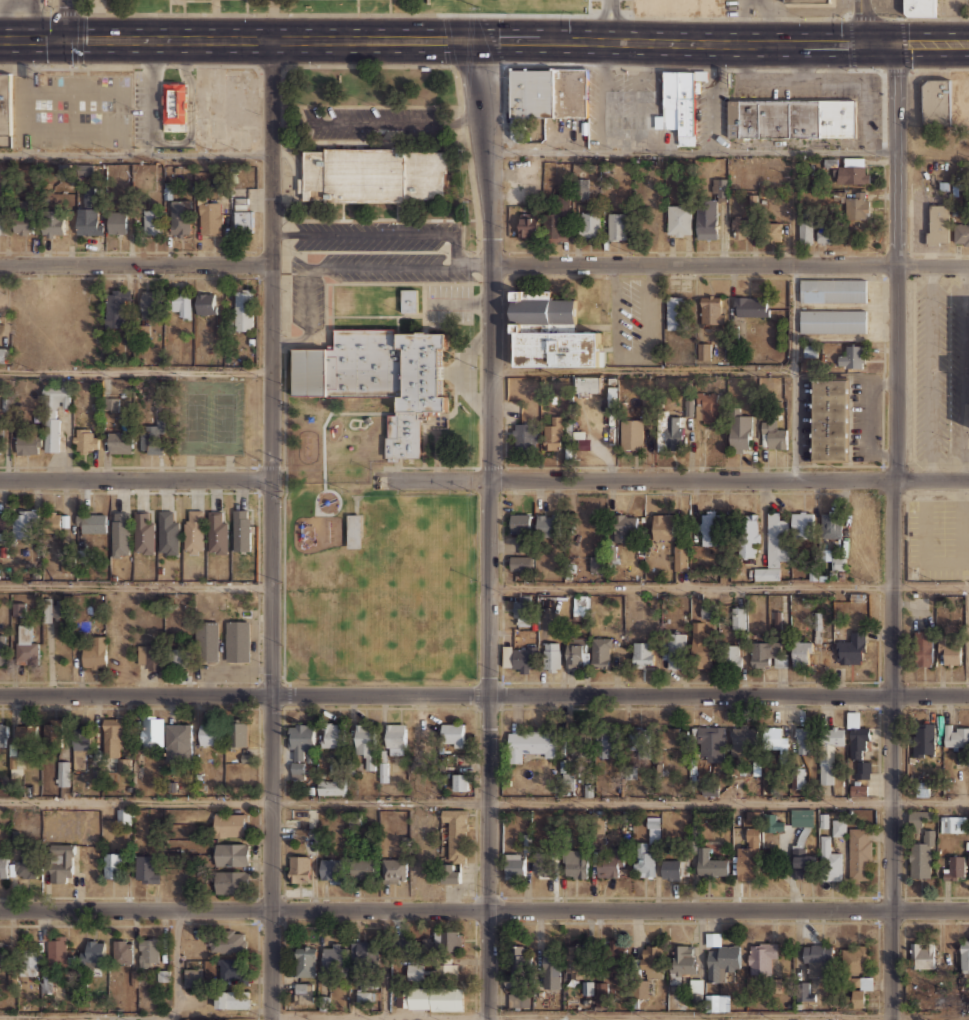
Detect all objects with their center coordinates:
building: (807, 1)
building: (919, 8)
road: (65, 20)
road: (610, 20)
road: (862, 22)
road: (484, 40)
building: (560, 91)
building: (577, 92)
building: (682, 102)
building: (936, 102)
building: (529, 103)
building: (5, 104)
building: (174, 107)
parking lot: (83, 111)
building: (733, 118)
building: (747, 118)
building: (762, 118)
building: (772, 118)
building: (783, 118)
building: (797, 118)
building: (812, 118)
building: (843, 118)
building: (824, 119)
building: (633, 121)
parking lot: (370, 123)
road: (379, 124)
road: (136, 152)
road: (693, 152)
building: (64, 170)
building: (851, 170)
building: (372, 174)
road: (294, 186)
building: (582, 188)
building: (719, 189)
building: (89, 193)
building: (857, 204)
building: (242, 215)
building: (209, 216)
building: (181, 217)
building: (558, 219)
building: (706, 219)
building: (152, 220)
building: (678, 220)
building: (88, 221)
building: (117, 221)
building: (2, 223)
building: (589, 223)
building: (22, 224)
building: (53, 224)
building: (528, 225)
building: (617, 225)
building: (938, 225)
building: (742, 229)
building: (772, 231)
building: (805, 231)
building: (961, 233)
road: (379, 234)
building: (826, 235)
parking lot: (369, 244)
road: (136, 263)
road: (731, 264)
road: (403, 266)
road: (283, 284)
building: (832, 290)
building: (408, 299)
building: (150, 302)
building: (179, 302)
building: (205, 303)
building: (117, 306)
building: (751, 306)
building: (243, 309)
building: (712, 309)
building: (675, 312)
road: (307, 317)
building: (832, 321)
building: (549, 332)
road: (283, 342)
building: (703, 350)
building: (3, 354)
building: (852, 357)
road: (136, 369)
road: (642, 370)
road: (792, 371)
building: (379, 377)
building: (587, 384)
building: (110, 403)
building: (709, 406)
building: (688, 407)
building: (53, 413)
building: (829, 420)
building: (670, 431)
building: (740, 432)
building: (554, 433)
building: (631, 433)
building: (525, 435)
building: (772, 435)
building: (151, 438)
building: (0, 439)
building: (85, 439)
building: (120, 441)
building: (27, 444)
building: (584, 445)
road: (675, 479)
road: (135, 480)
road: (129, 492)
road: (283, 519)
building: (56, 521)
building: (93, 521)
building: (520, 521)
building: (803, 522)
building: (4, 523)
building: (25, 523)
building: (546, 524)
building: (831, 524)
building: (662, 525)
building: (625, 527)
building: (710, 527)
building: (241, 529)
road: (271, 529)
building: (354, 529)
road: (488, 529)
building: (143, 531)
building: (193, 531)
road: (893, 531)
building: (217, 532)
building: (120, 533)
building: (167, 533)
building: (748, 535)
parking lot: (938, 538)
building: (774, 547)
building: (680, 557)
building: (521, 562)
building: (596, 563)
building: (838, 563)
road: (135, 584)
road: (728, 585)
building: (241, 600)
building: (580, 604)
building: (53, 606)
building: (62, 608)
building: (18, 609)
building: (708, 609)
building: (46, 610)
building: (522, 612)
building: (738, 616)
building: (779, 619)
building: (206, 640)
building: (237, 640)
building: (25, 643)
building: (701, 644)
road: (258, 647)
building: (923, 647)
building: (851, 648)
building: (2, 649)
building: (674, 649)
building: (601, 651)
building: (802, 652)
building: (575, 653)
building: (643, 653)
building: (948, 653)
building: (95, 654)
building: (767, 654)
building: (731, 655)
building: (149, 656)
building: (178, 656)
building: (551, 656)
building: (519, 657)
road: (52, 682)
road: (288, 695)
road: (484, 696)
building: (52, 730)
building: (151, 731)
building: (26, 732)
building: (209, 733)
building: (239, 733)
building: (332, 734)
building: (424, 734)
building: (453, 734)
building: (3, 735)
building: (856, 735)
building: (956, 735)
building: (113, 736)
building: (672, 736)
building: (774, 737)
building: (803, 737)
building: (396, 738)
building: (637, 738)
building: (742, 738)
building: (924, 739)
building: (178, 740)
building: (610, 740)
building: (711, 741)
building: (366, 742)
building: (579, 742)
building: (531, 743)
building: (300, 747)
road: (283, 748)
building: (829, 750)
building: (81, 751)
building: (863, 769)
building: (63, 773)
building: (799, 778)
building: (460, 781)
building: (331, 786)
building: (858, 789)
road: (484, 804)
building: (125, 815)
building: (753, 815)
building: (917, 816)
building: (801, 817)
building: (772, 822)
building: (952, 823)
building: (231, 825)
building: (839, 826)
building: (652, 828)
building: (456, 832)
building: (300, 835)
building: (232, 853)
building: (859, 853)
building: (749, 856)
building: (922, 856)
building: (968, 858)
building: (642, 860)
building: (829, 860)
building: (62, 862)
building: (575, 862)
building: (542, 863)
building: (610, 863)
building: (802, 863)
building: (26, 864)
building: (112, 864)
building: (514, 864)
building: (710, 864)
building: (3, 866)
building: (955, 866)
building: (146, 867)
building: (299, 867)
building: (364, 867)
building: (331, 868)
building: (674, 868)
building: (394, 869)
building: (451, 873)
building: (232, 881)
road: (484, 910)
building: (227, 940)
building: (447, 940)
building: (366, 949)
building: (58, 950)
building: (93, 950)
building: (122, 950)
building: (921, 950)
building: (149, 951)
building: (2, 953)
building: (335, 954)
building: (964, 955)
building: (761, 956)
building: (613, 957)
building: (817, 957)
building: (855, 957)
building: (721, 958)
building: (306, 960)
building: (651, 960)
building: (551, 961)
building: (575, 961)
building: (682, 962)
road: (176, 965)
building: (518, 965)
building: (230, 967)
building: (35, 969)
building: (416, 969)
building: (444, 969)
building: (193, 976)
building: (367, 984)
building: (588, 988)
building: (642, 988)
building: (696, 988)
building: (859, 989)
building: (303, 992)
building: (600, 992)
building: (804, 992)
building: (365, 998)
building: (412, 998)
building: (444, 999)
building: (232, 1000)
building: (521, 1000)
building: (717, 1001)
building: (939, 1003)
road: (484, 1016)
road: (384, 1019)

